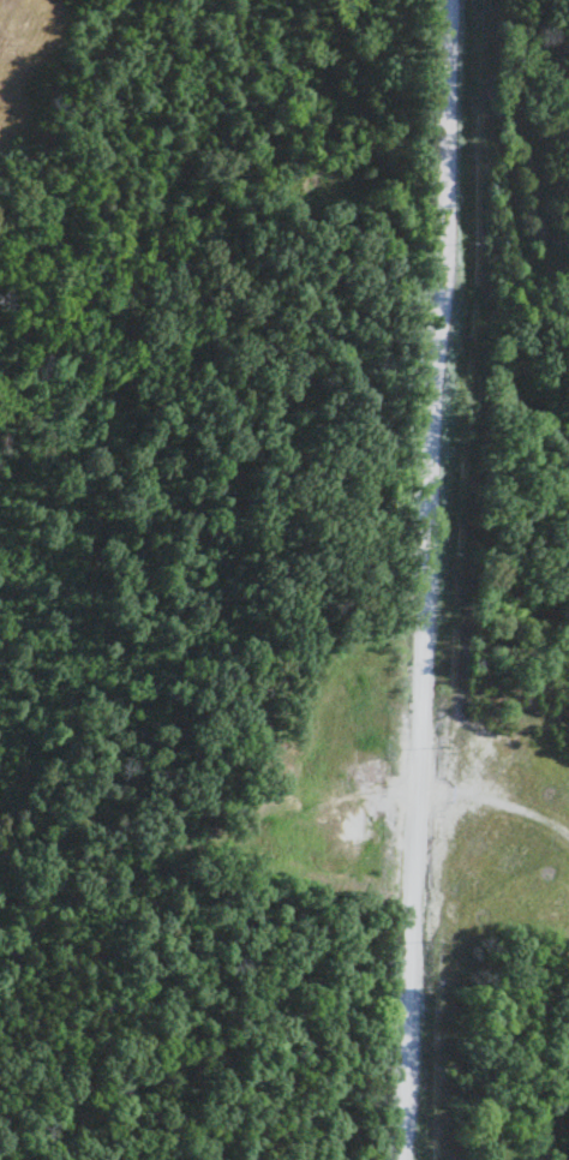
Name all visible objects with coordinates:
road: (425, 579)

